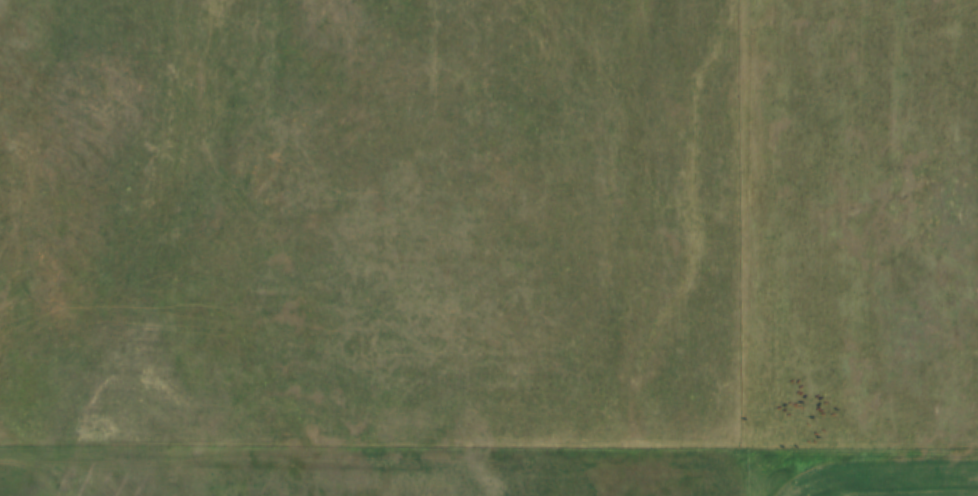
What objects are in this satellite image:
road: (75, 470)

